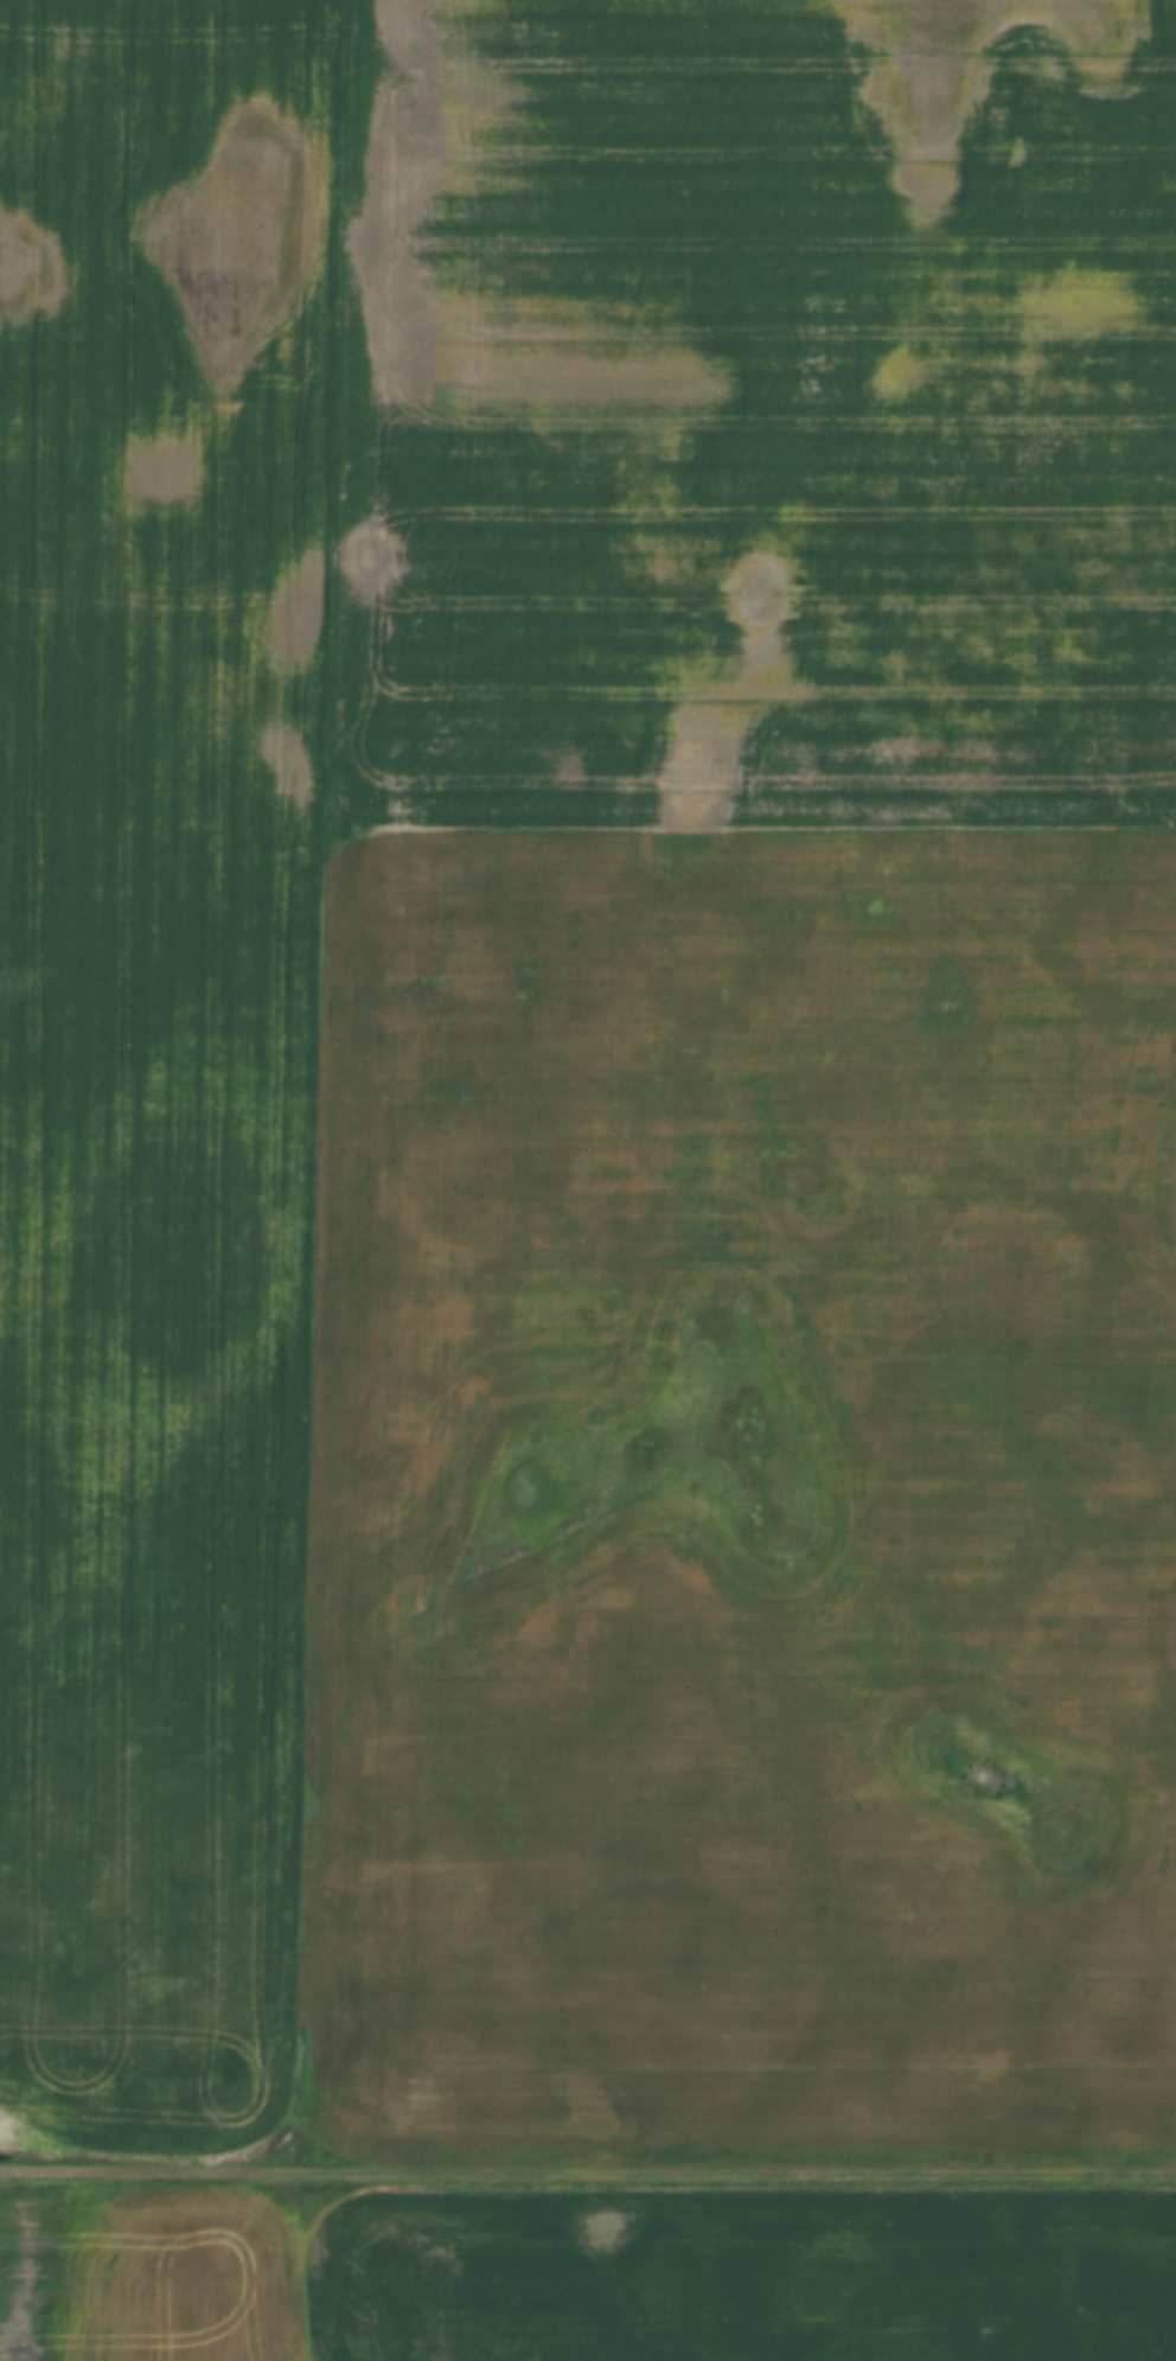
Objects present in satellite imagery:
road: (588, 2177)

